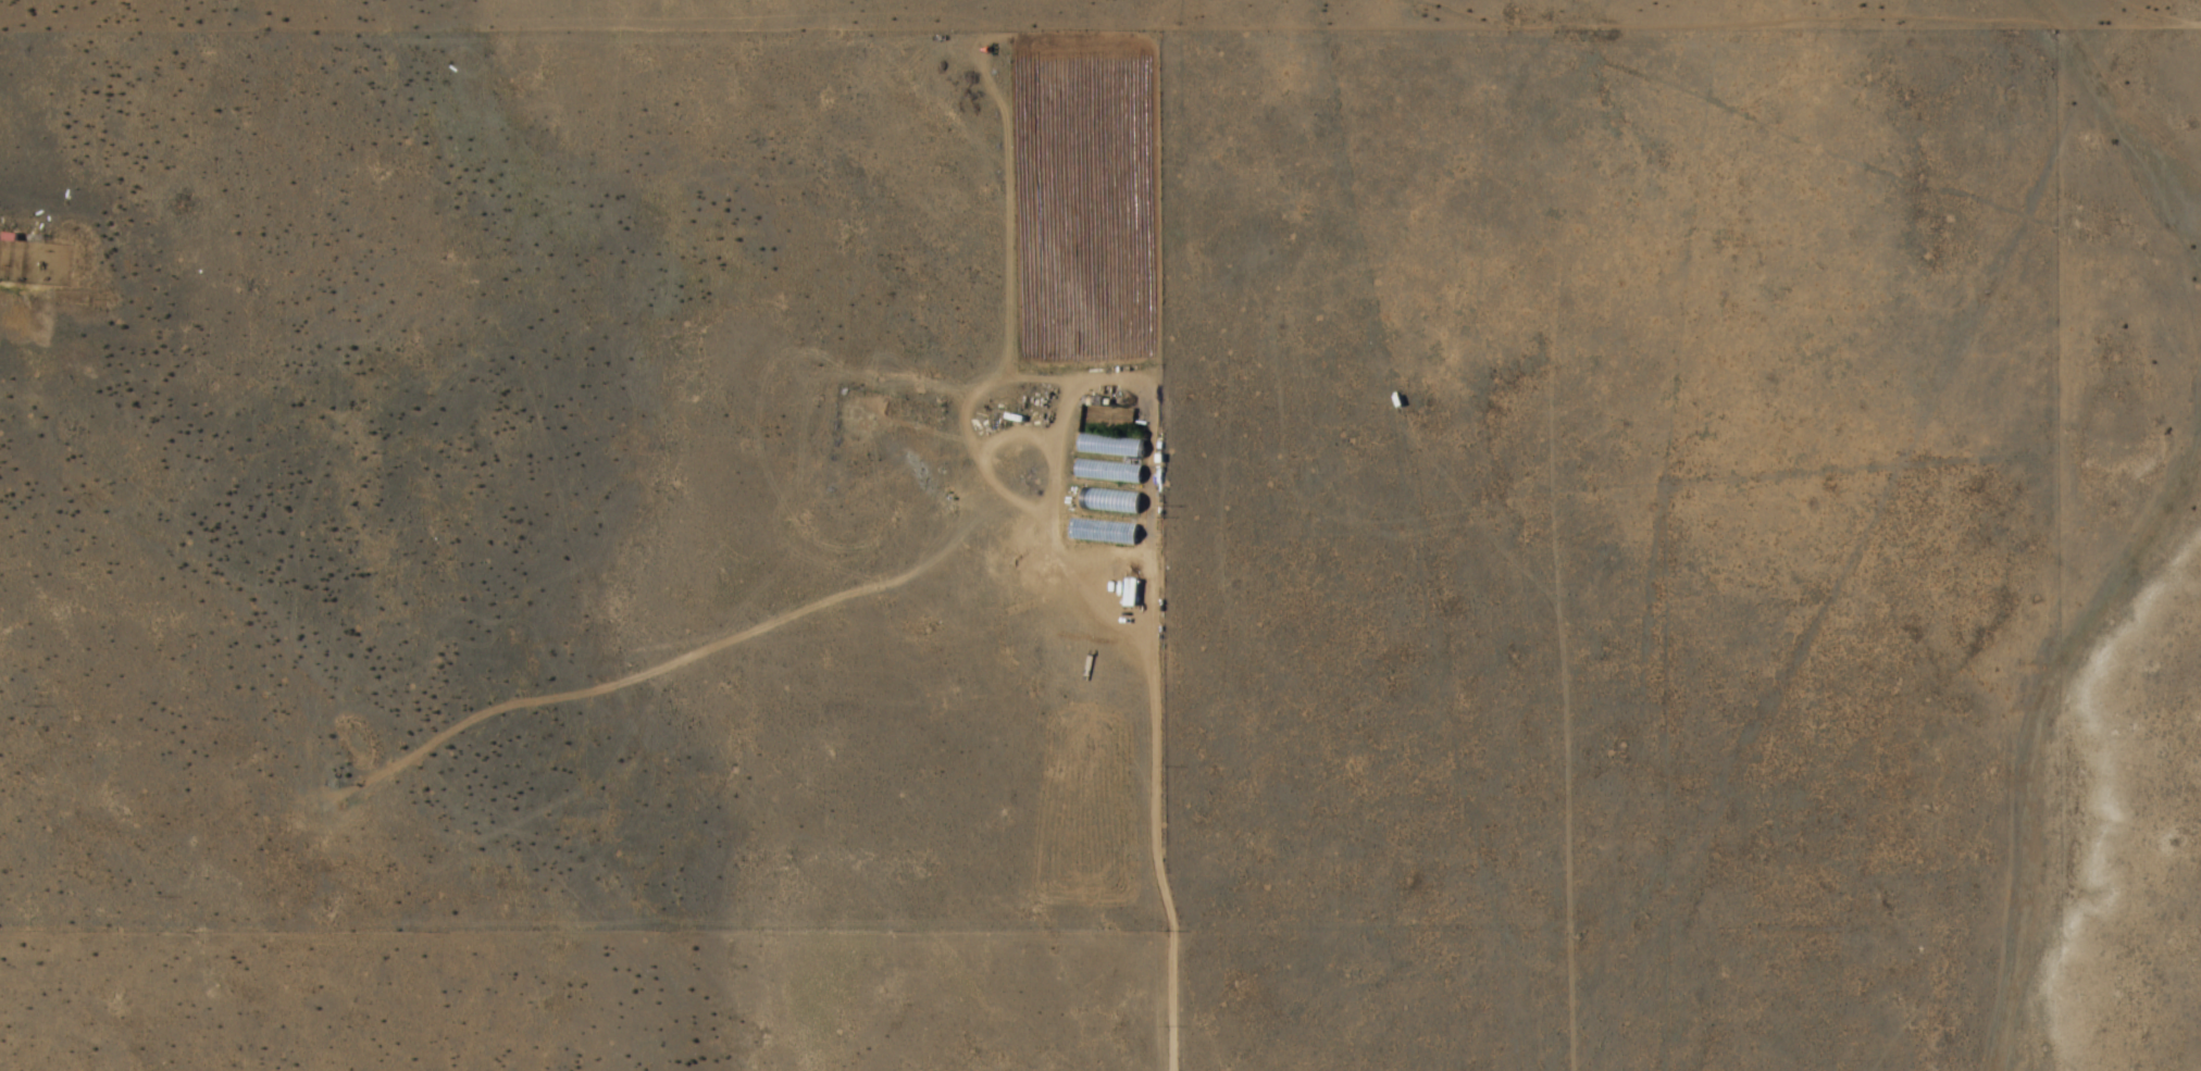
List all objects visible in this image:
building: (1111, 447)
building: (1108, 472)
building: (1110, 501)
road: (1148, 787)

